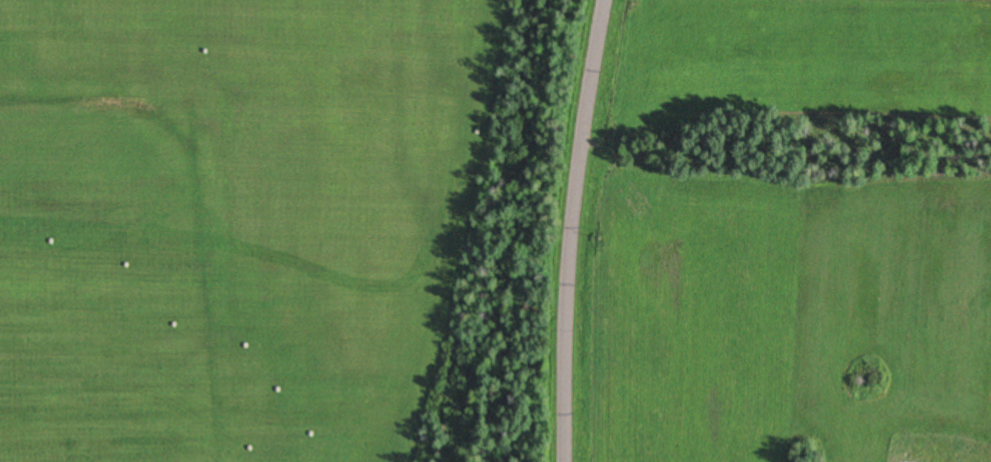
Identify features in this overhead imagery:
road: (566, 229)

